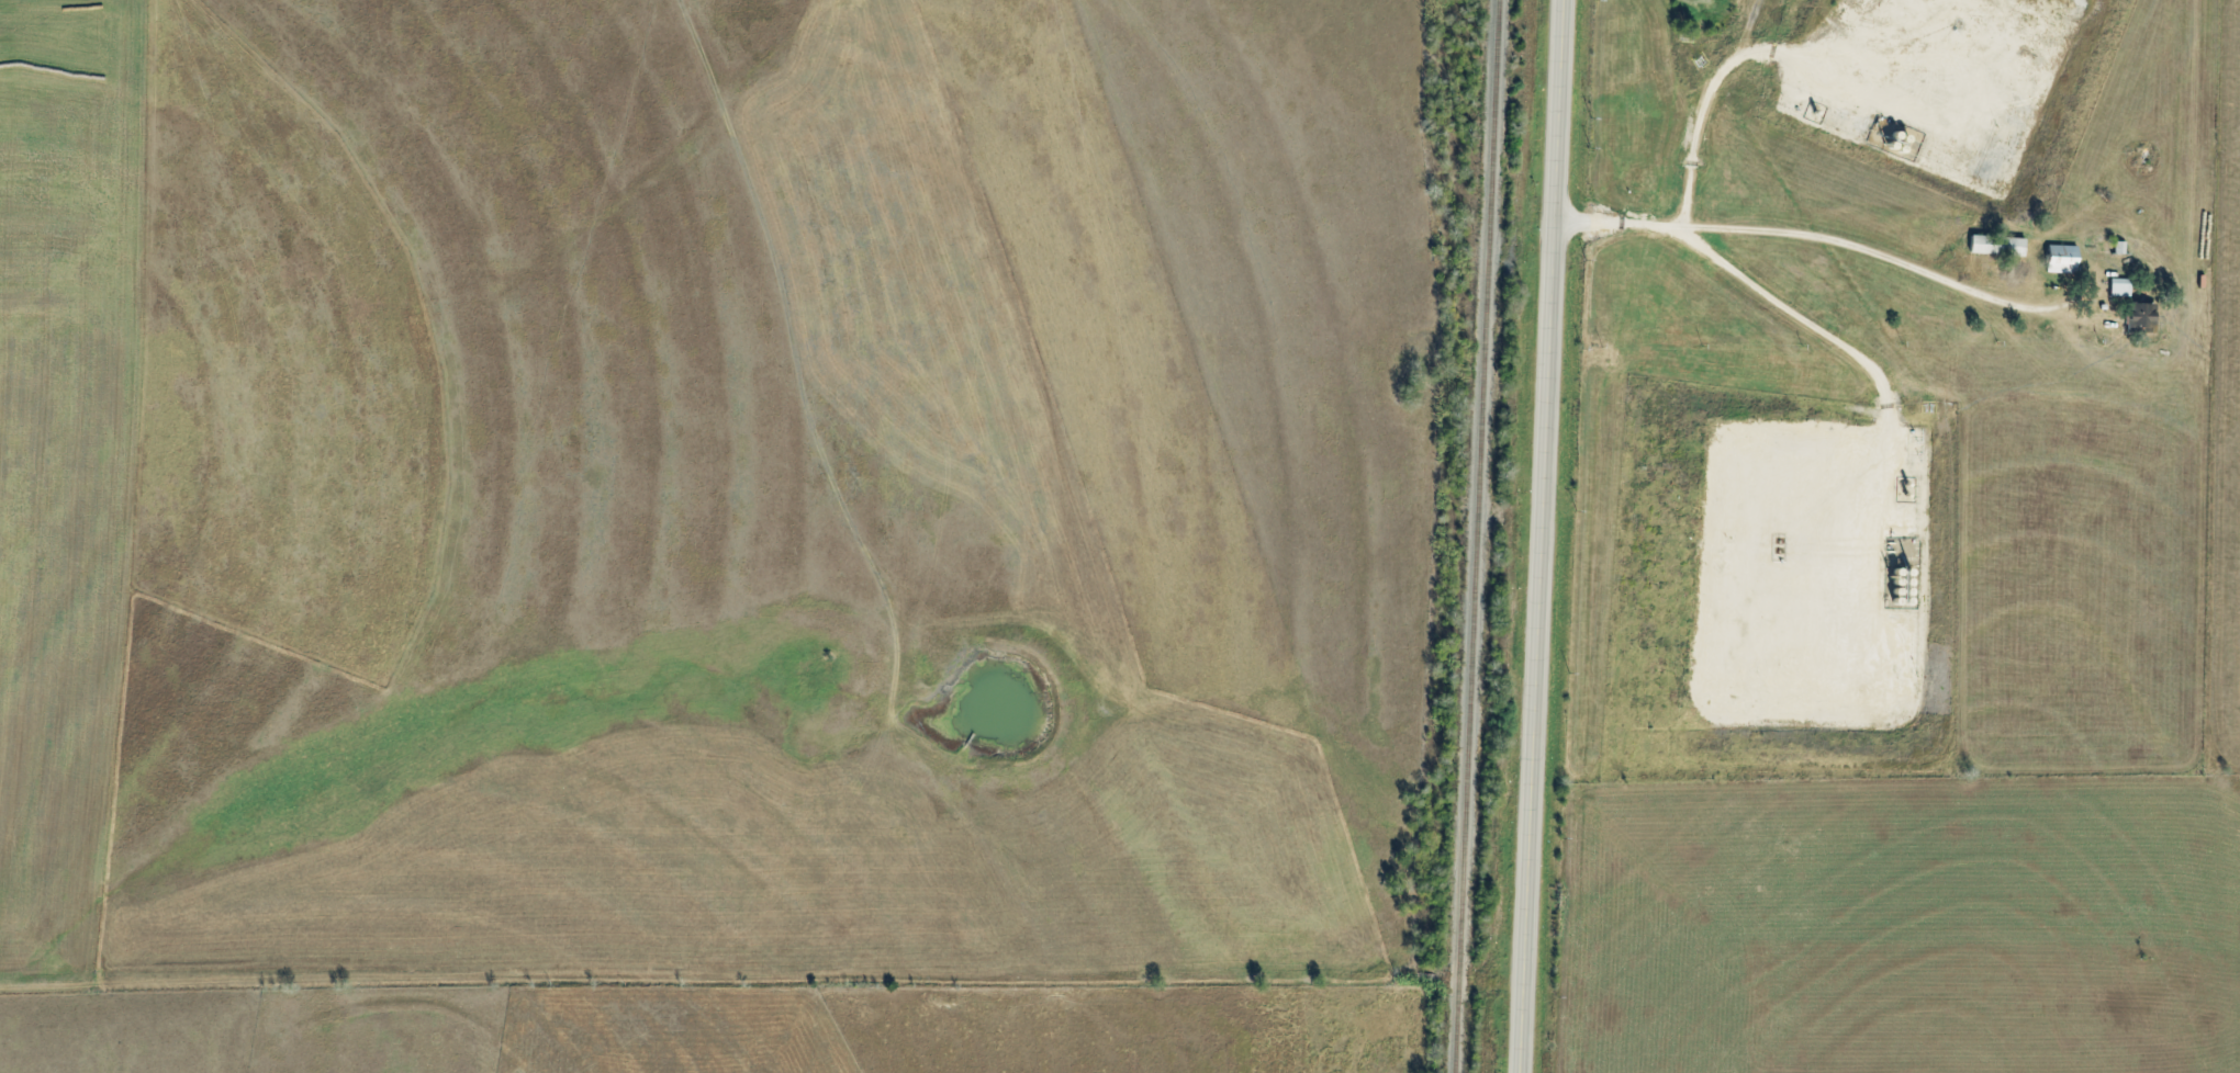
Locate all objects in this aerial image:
road: (1801, 238)
building: (1994, 246)
building: (2118, 248)
building: (2059, 260)
road: (1738, 275)
building: (2118, 287)
building: (2139, 317)
railway: (1475, 536)
road: (1550, 536)

